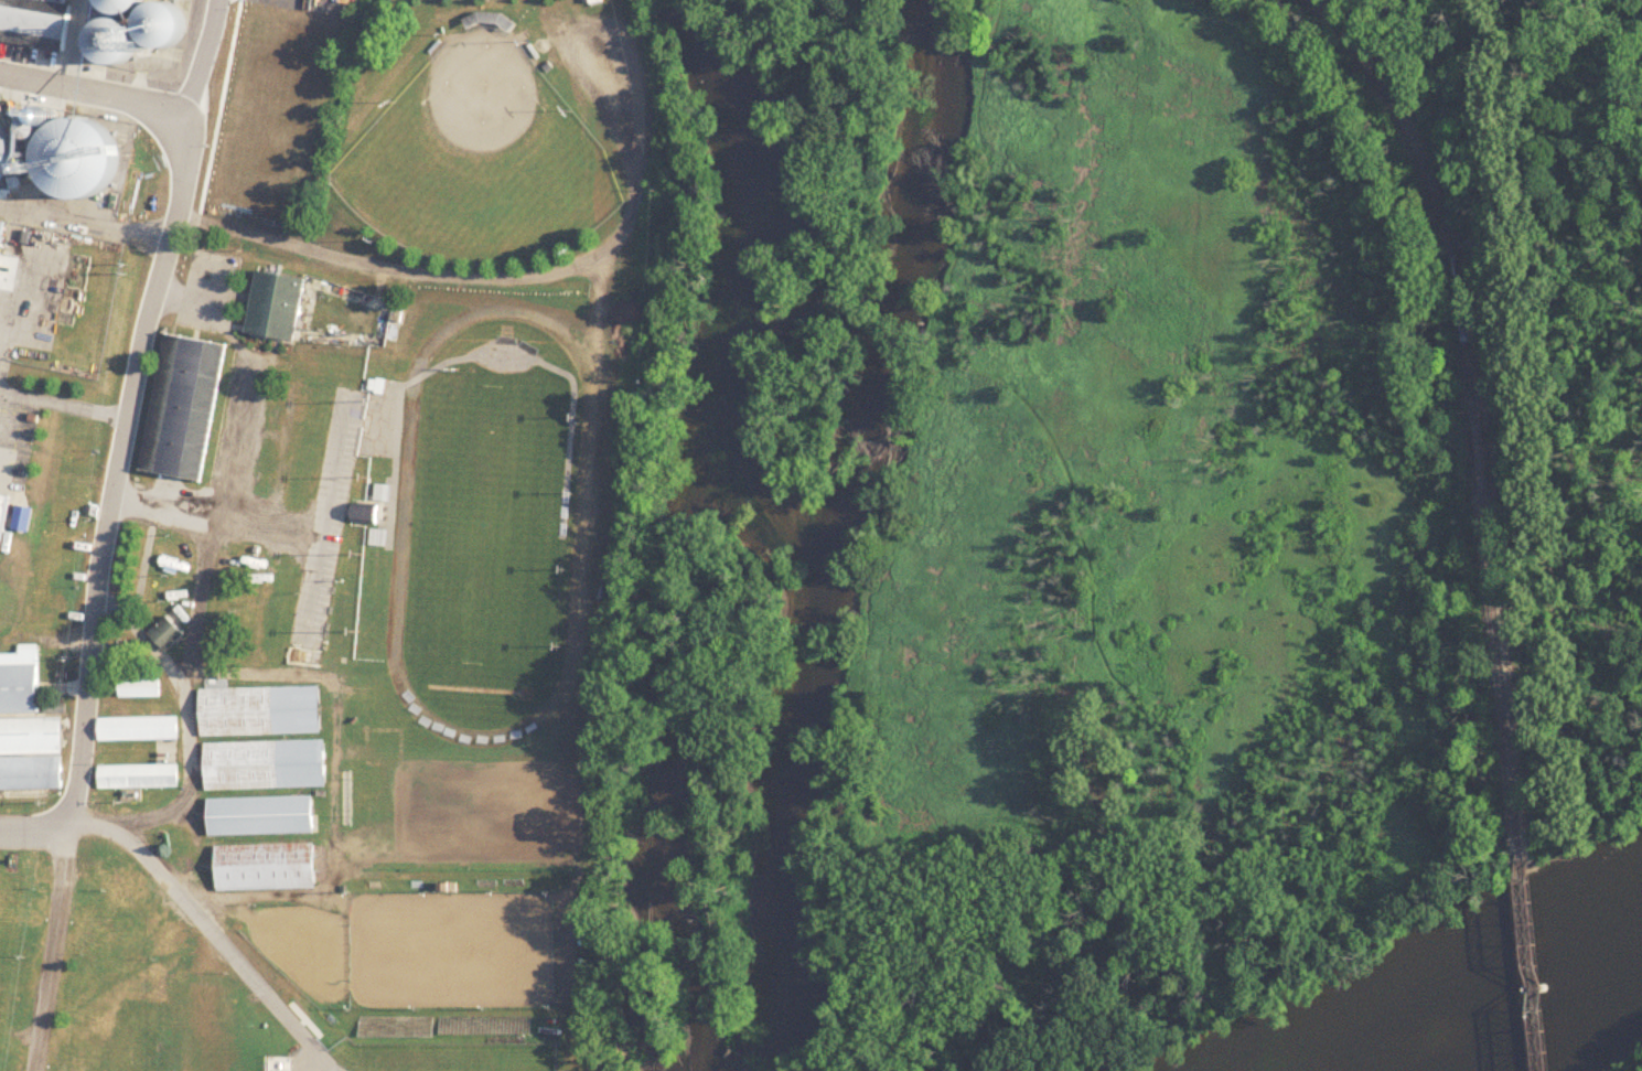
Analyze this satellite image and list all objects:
building: (598, 2)
building: (127, 7)
building: (35, 23)
building: (170, 26)
building: (120, 45)
road: (94, 89)
park: (479, 158)
building: (7, 161)
building: (84, 161)
railway: (1434, 188)
building: (2, 237)
river: (903, 287)
building: (277, 308)
building: (378, 386)
road: (65, 404)
building: (184, 408)
road: (130, 410)
park: (484, 418)
railway: (1479, 449)
building: (365, 515)
building: (4, 520)
road: (201, 520)
river: (786, 525)
track: (493, 526)
building: (379, 539)
park: (485, 540)
building: (171, 640)
railway: (1503, 677)
building: (24, 684)
building: (141, 689)
building: (261, 713)
building: (139, 730)
building: (31, 756)
road: (201, 759)
building: (266, 767)
building: (139, 778)
building: (565, 791)
building: (262, 816)
road: (35, 826)
building: (267, 868)
road: (1270, 917)
road: (52, 949)
road: (227, 956)
railway: (1534, 966)
river: (1546, 1017)

